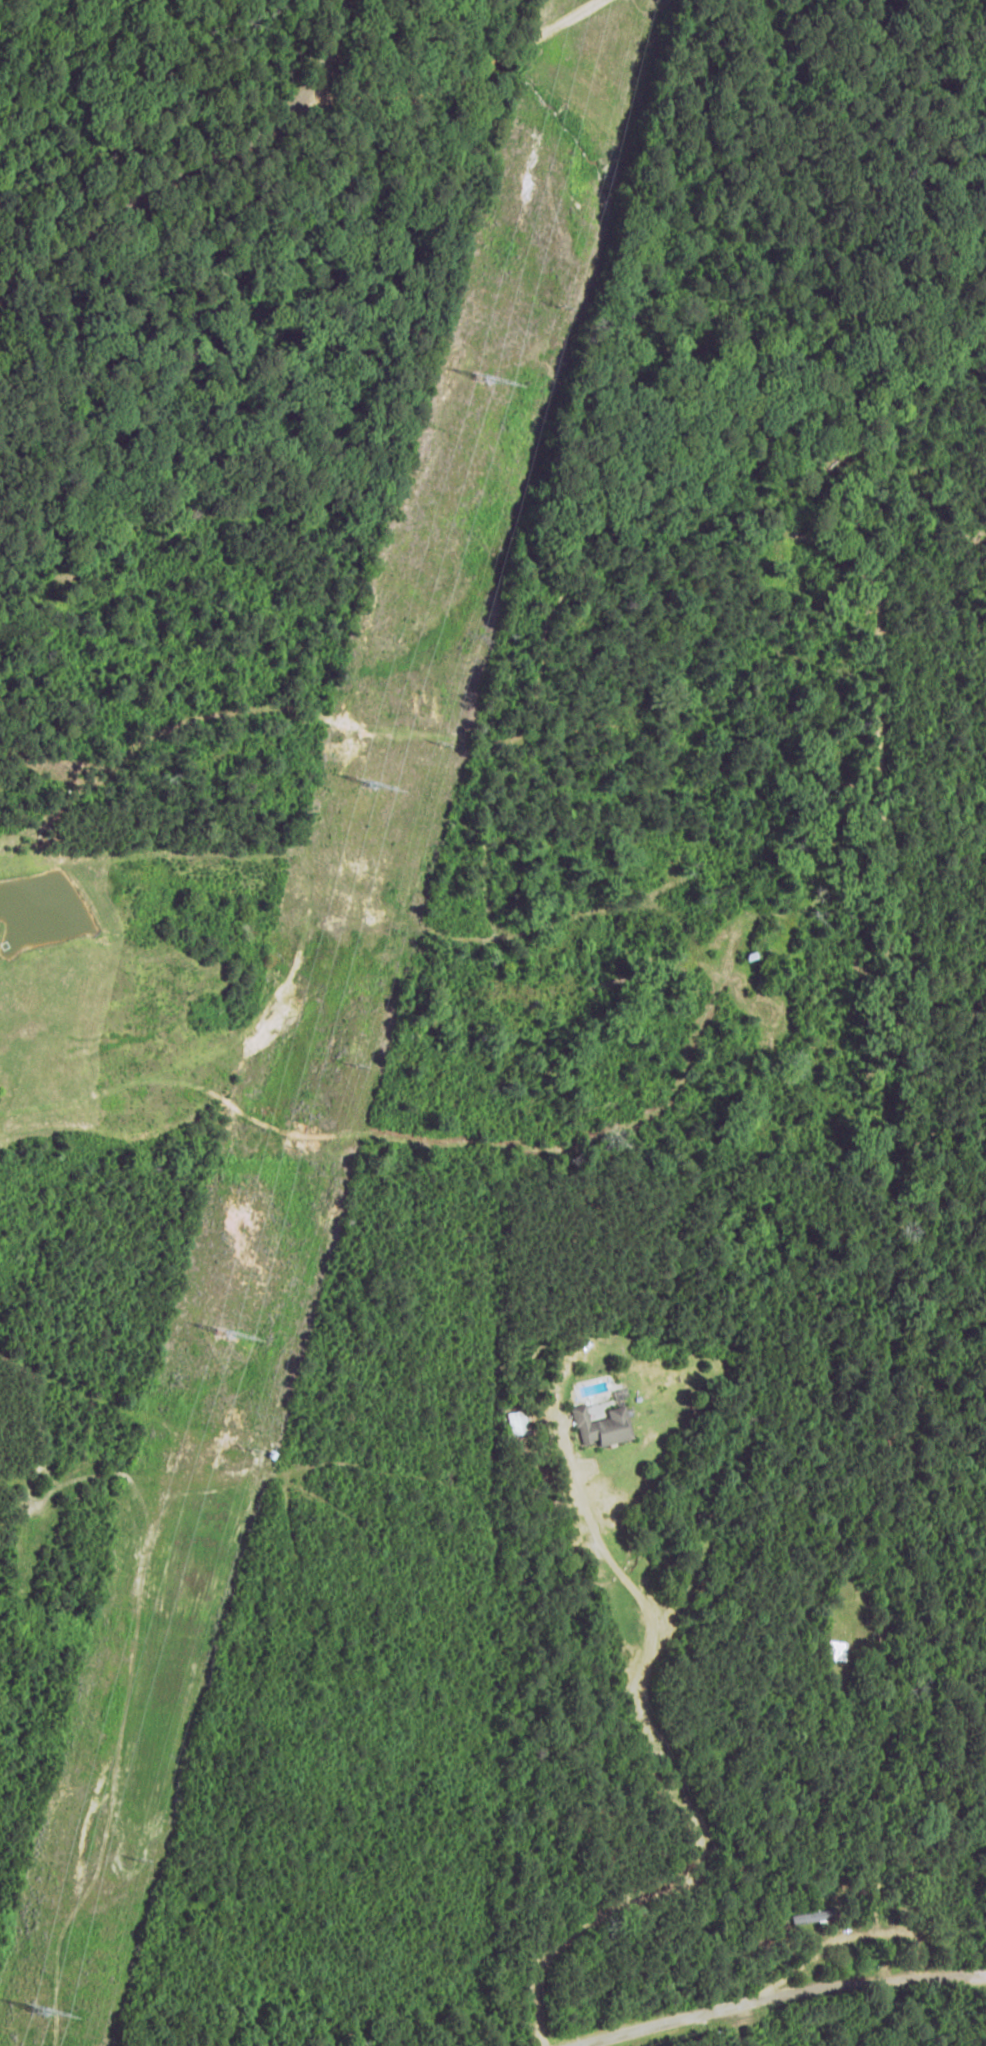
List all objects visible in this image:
road: (197, 187)
power tower: (478, 384)
power tower: (369, 789)
power tower: (222, 1333)
building: (598, 1418)
road: (837, 1953)
power tower: (37, 2012)
road: (801, 2027)

